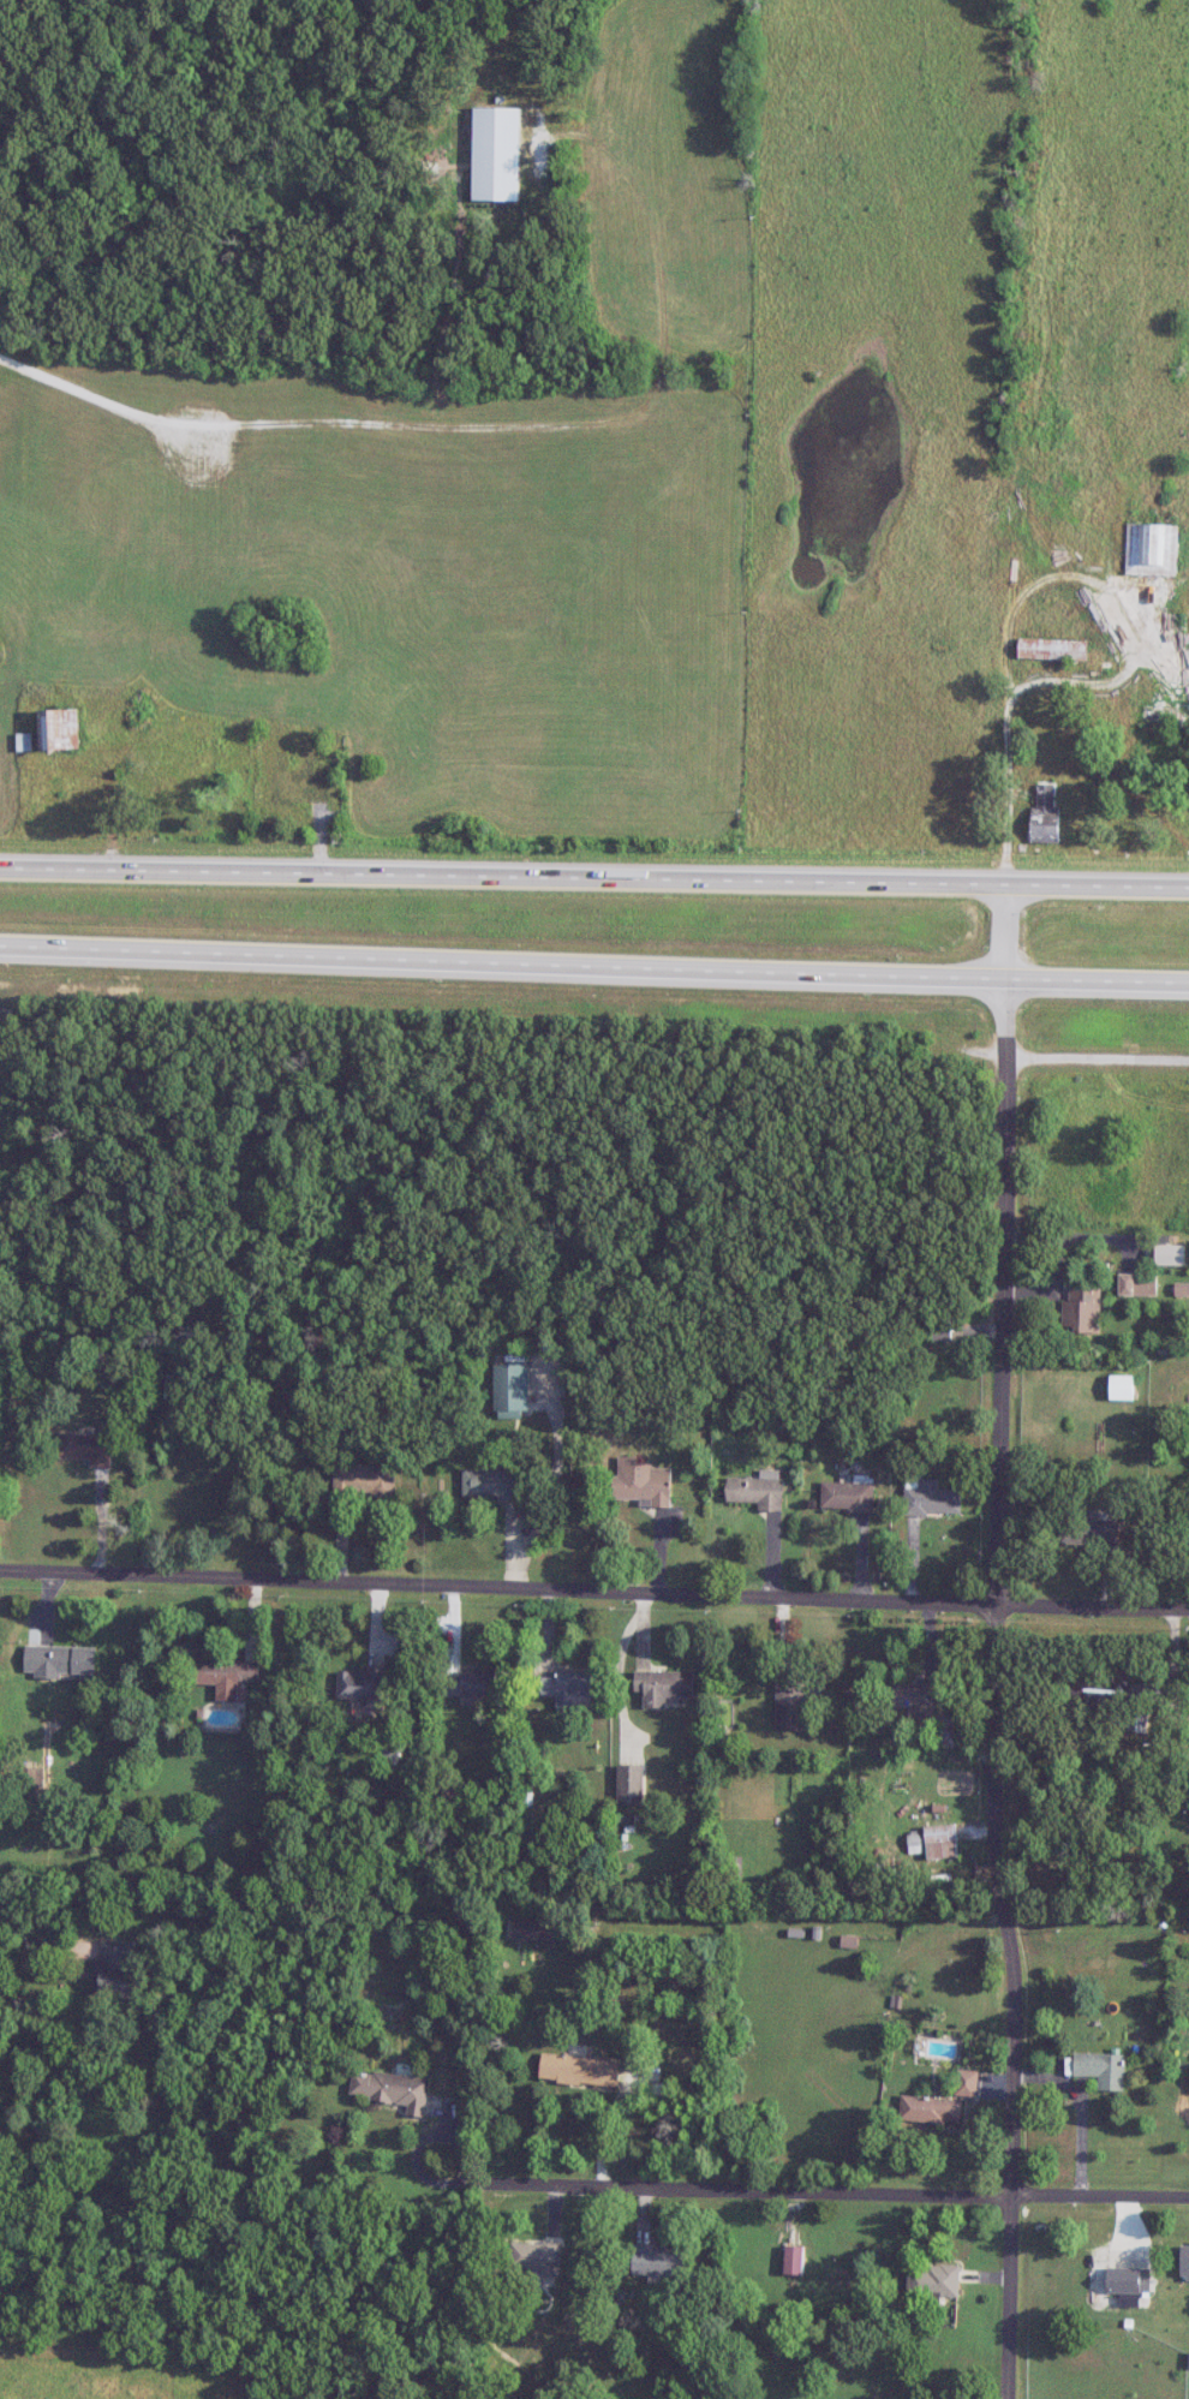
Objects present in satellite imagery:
road: (201, 425)
building: (1152, 550)
building: (1051, 650)
road: (1113, 681)
building: (1151, 693)
building: (1147, 714)
building: (58, 729)
building: (303, 786)
building: (175, 789)
building: (1045, 814)
road: (594, 877)
road: (593, 968)
road: (1097, 1060)
building: (1137, 1285)
building: (1081, 1307)
building: (942, 1330)
building: (783, 1344)
building: (510, 1389)
building: (1121, 1389)
building: (85, 1449)
building: (364, 1482)
building: (494, 1484)
building: (641, 1484)
building: (757, 1492)
building: (847, 1498)
building: (931, 1499)
building: (1087, 1530)
road: (593, 1589)
road: (996, 1641)
building: (62, 1660)
building: (228, 1675)
building: (471, 1684)
building: (364, 1687)
building: (663, 1687)
building: (563, 1690)
building: (1091, 1693)
building: (913, 1697)
building: (796, 1701)
building: (631, 1786)
building: (940, 1843)
building: (731, 1878)
road: (23, 1923)
building: (534, 1930)
building: (115, 1970)
building: (1101, 2070)
building: (579, 2071)
building: (967, 2083)
building: (394, 2089)
building: (931, 2111)
road: (808, 2188)
building: (1184, 2257)
building: (534, 2258)
building: (794, 2260)
building: (659, 2261)
building: (934, 2281)

